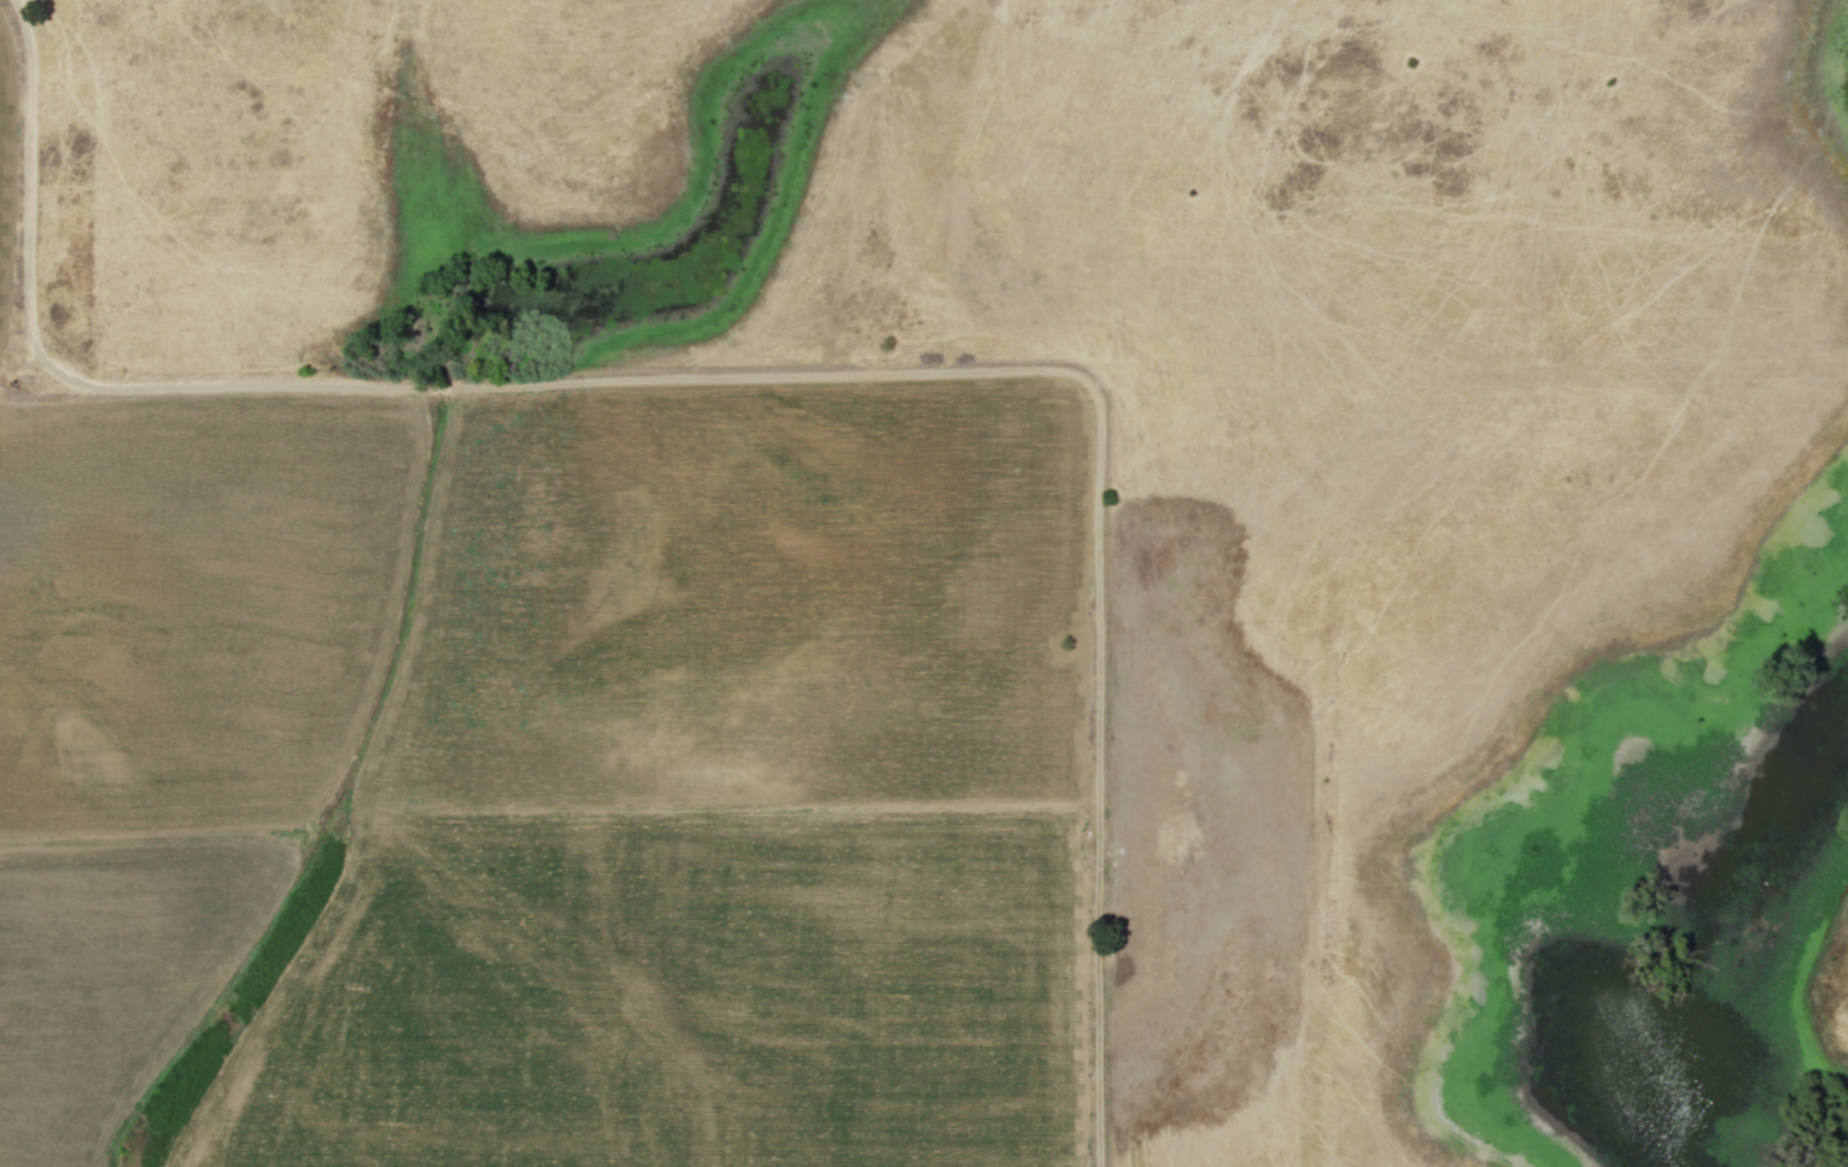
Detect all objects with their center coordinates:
crop: (850, 551)

